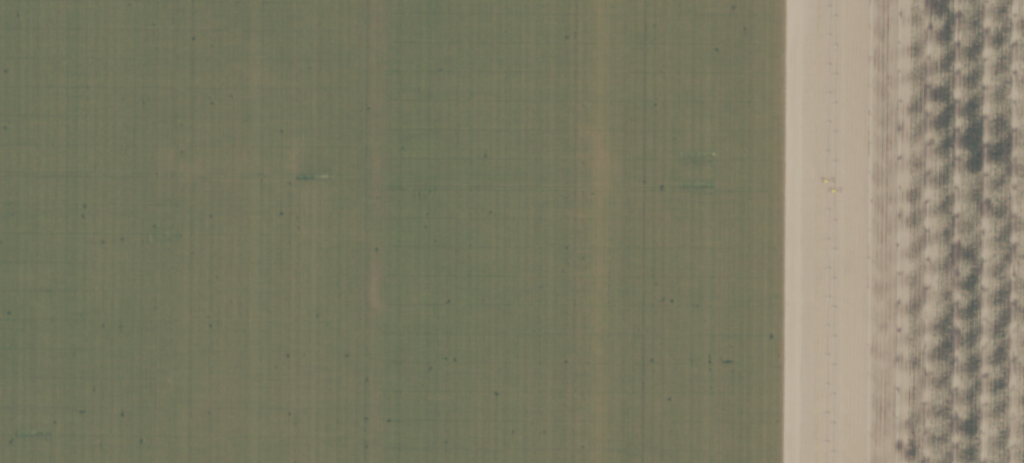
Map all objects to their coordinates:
crop: (512, 231)

